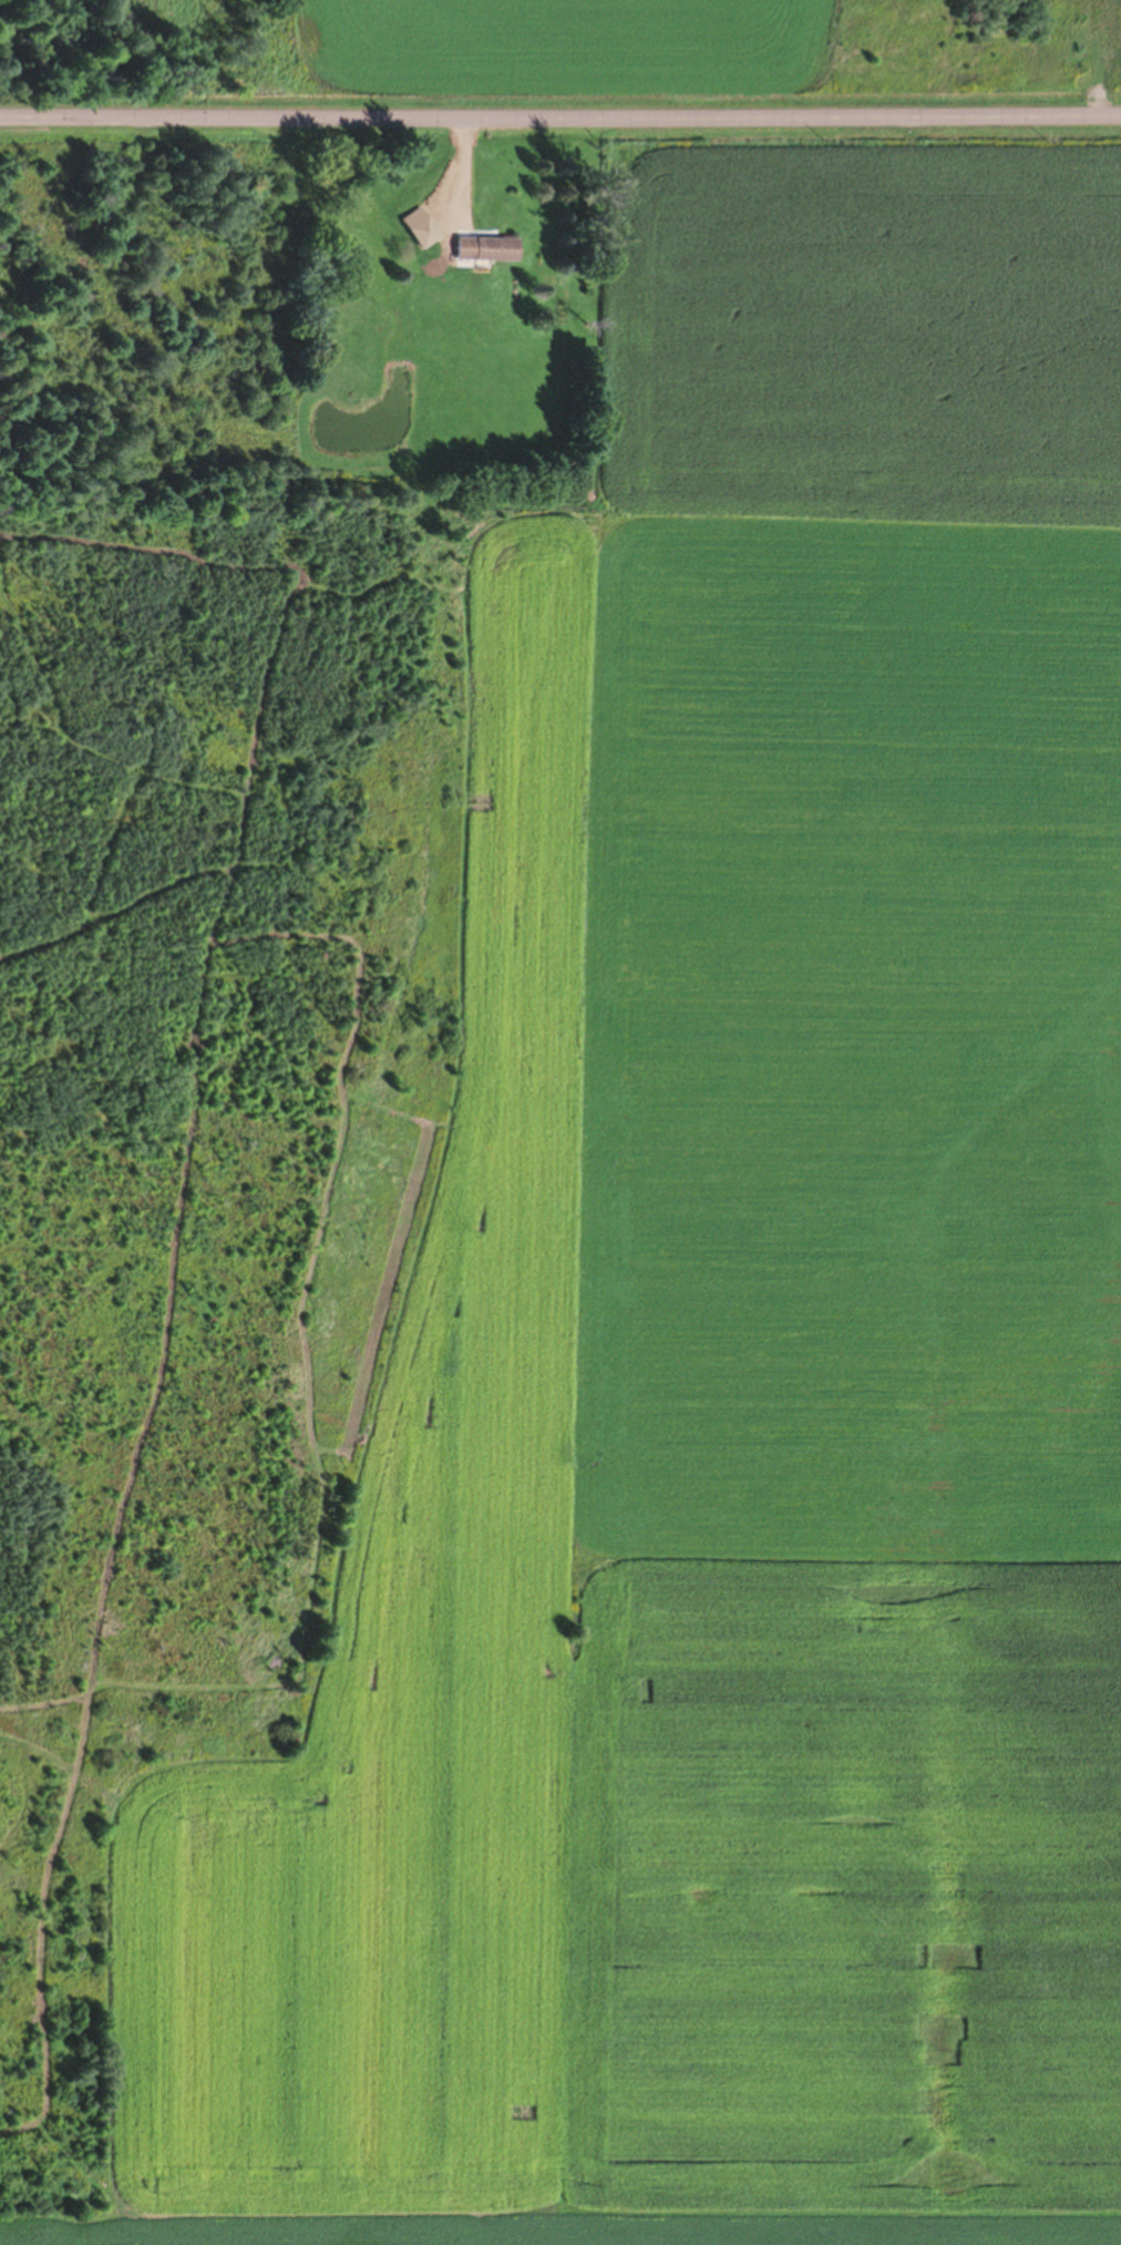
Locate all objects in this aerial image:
road: (559, 116)
building: (419, 226)
building: (475, 248)

